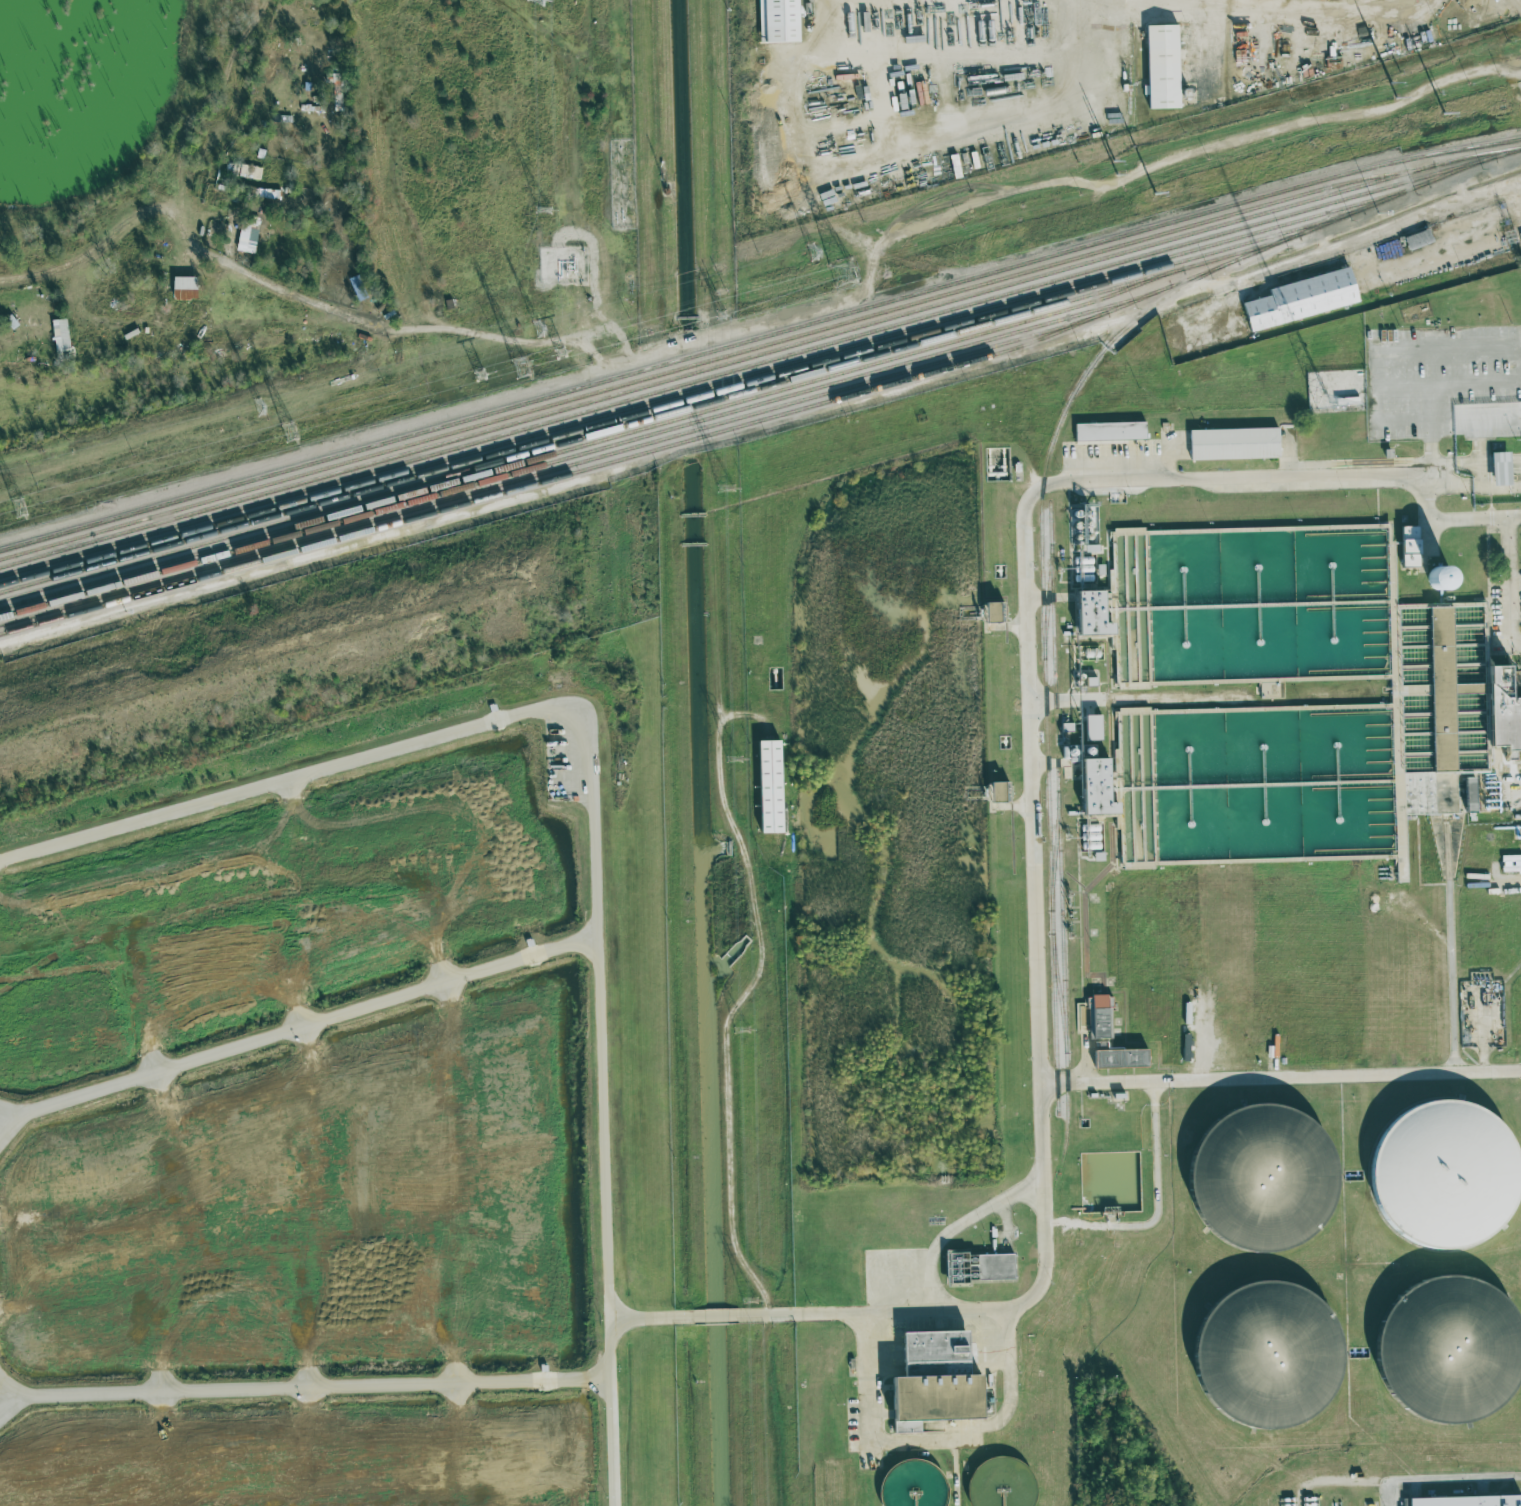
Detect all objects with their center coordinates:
power tower: (541, 3)
building: (777, 21)
road: (1280, 23)
building: (1124, 43)
building: (1161, 66)
power tower: (1379, 94)
power tower: (1390, 125)
road: (1191, 152)
power tower: (1096, 172)
power tower: (1113, 202)
railway: (1364, 207)
power tower: (544, 219)
road: (1385, 230)
building: (246, 234)
building: (1416, 239)
power tower: (814, 252)
power tower: (845, 274)
building: (182, 288)
building: (1311, 295)
road: (293, 298)
power tower: (721, 314)
building: (1258, 314)
power tower: (538, 330)
building: (58, 335)
railway: (758, 337)
power tower: (561, 352)
railway: (759, 354)
railway: (715, 358)
railway: (760, 362)
power tower: (522, 368)
power tower: (480, 375)
railway: (713, 384)
railway: (680, 401)
building: (1346, 401)
power tower: (260, 408)
road: (447, 413)
railway: (648, 418)
building: (1109, 431)
power tower: (290, 432)
railway: (592, 442)
building: (1232, 444)
road: (1431, 447)
railway: (585, 452)
railway: (621, 458)
building: (1499, 468)
railway: (553, 469)
power tower: (726, 488)
power tower: (19, 508)
road: (1453, 519)
building: (1085, 527)
building: (1408, 547)
building: (1437, 579)
railway: (1046, 601)
building: (992, 613)
building: (1089, 614)
railway: (1043, 643)
road: (1027, 664)
building: (1441, 689)
building: (1500, 713)
building: (1092, 728)
power tower: (734, 759)
building: (767, 787)
building: (1094, 787)
building: (998, 792)
building: (1469, 795)
road: (592, 807)
railway: (1059, 837)
railway: (1054, 851)
road: (1450, 938)
railway: (1058, 993)
building: (1099, 1015)
road: (296, 1028)
power tower: (740, 1030)
building: (1118, 1057)
road: (1279, 1077)
road: (725, 1101)
road: (1155, 1170)
building: (1259, 1175)
road: (956, 1225)
building: (976, 1267)
power tower: (749, 1302)
road: (718, 1315)
road: (752, 1315)
road: (653, 1318)
building: (1264, 1353)
building: (931, 1381)
road: (302, 1387)
road: (932, 1442)
road: (1441, 1479)
road: (1342, 1481)
building: (1452, 1501)
power substation: (1452, 1501)
building: (1507, 1501)
power substation: (1507, 1501)

